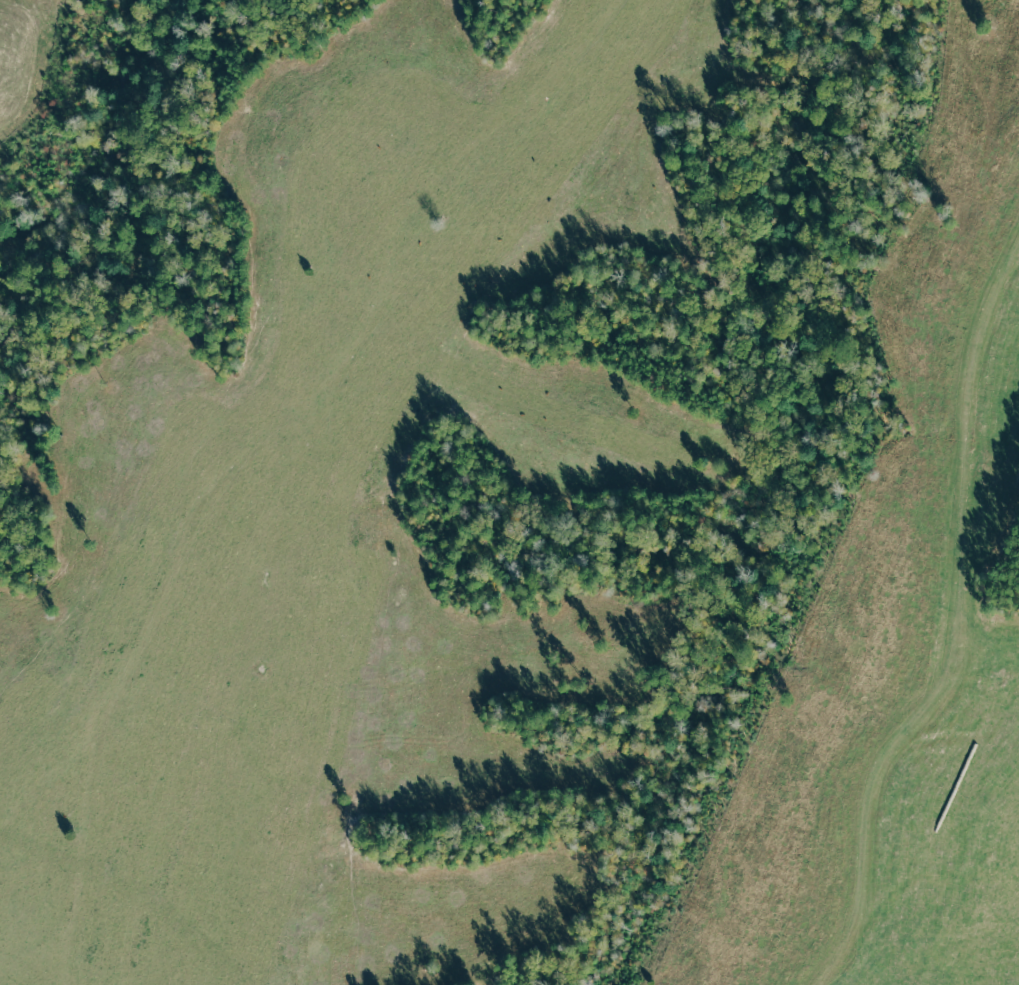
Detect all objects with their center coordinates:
road: (959, 630)

